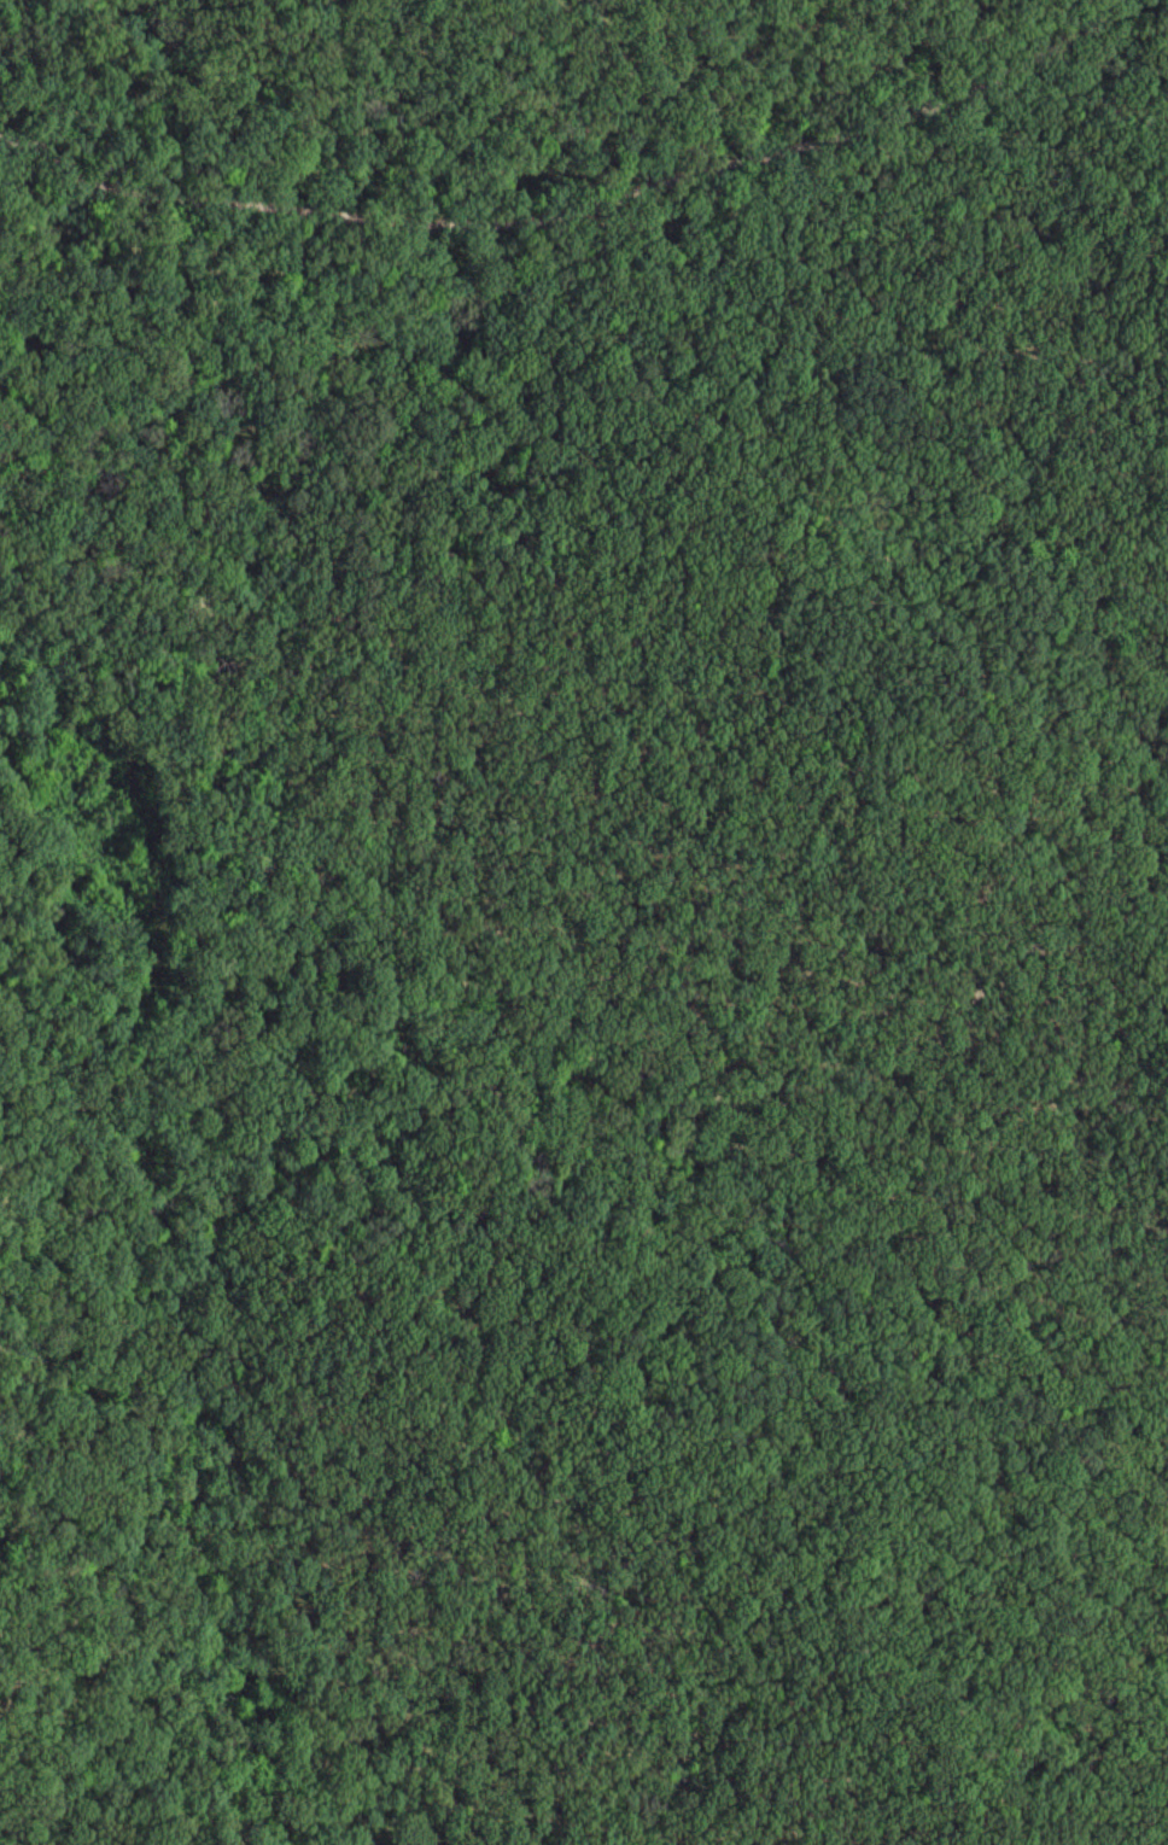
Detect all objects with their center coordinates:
road: (936, 109)
road: (356, 220)
road: (150, 992)
road: (562, 1018)

